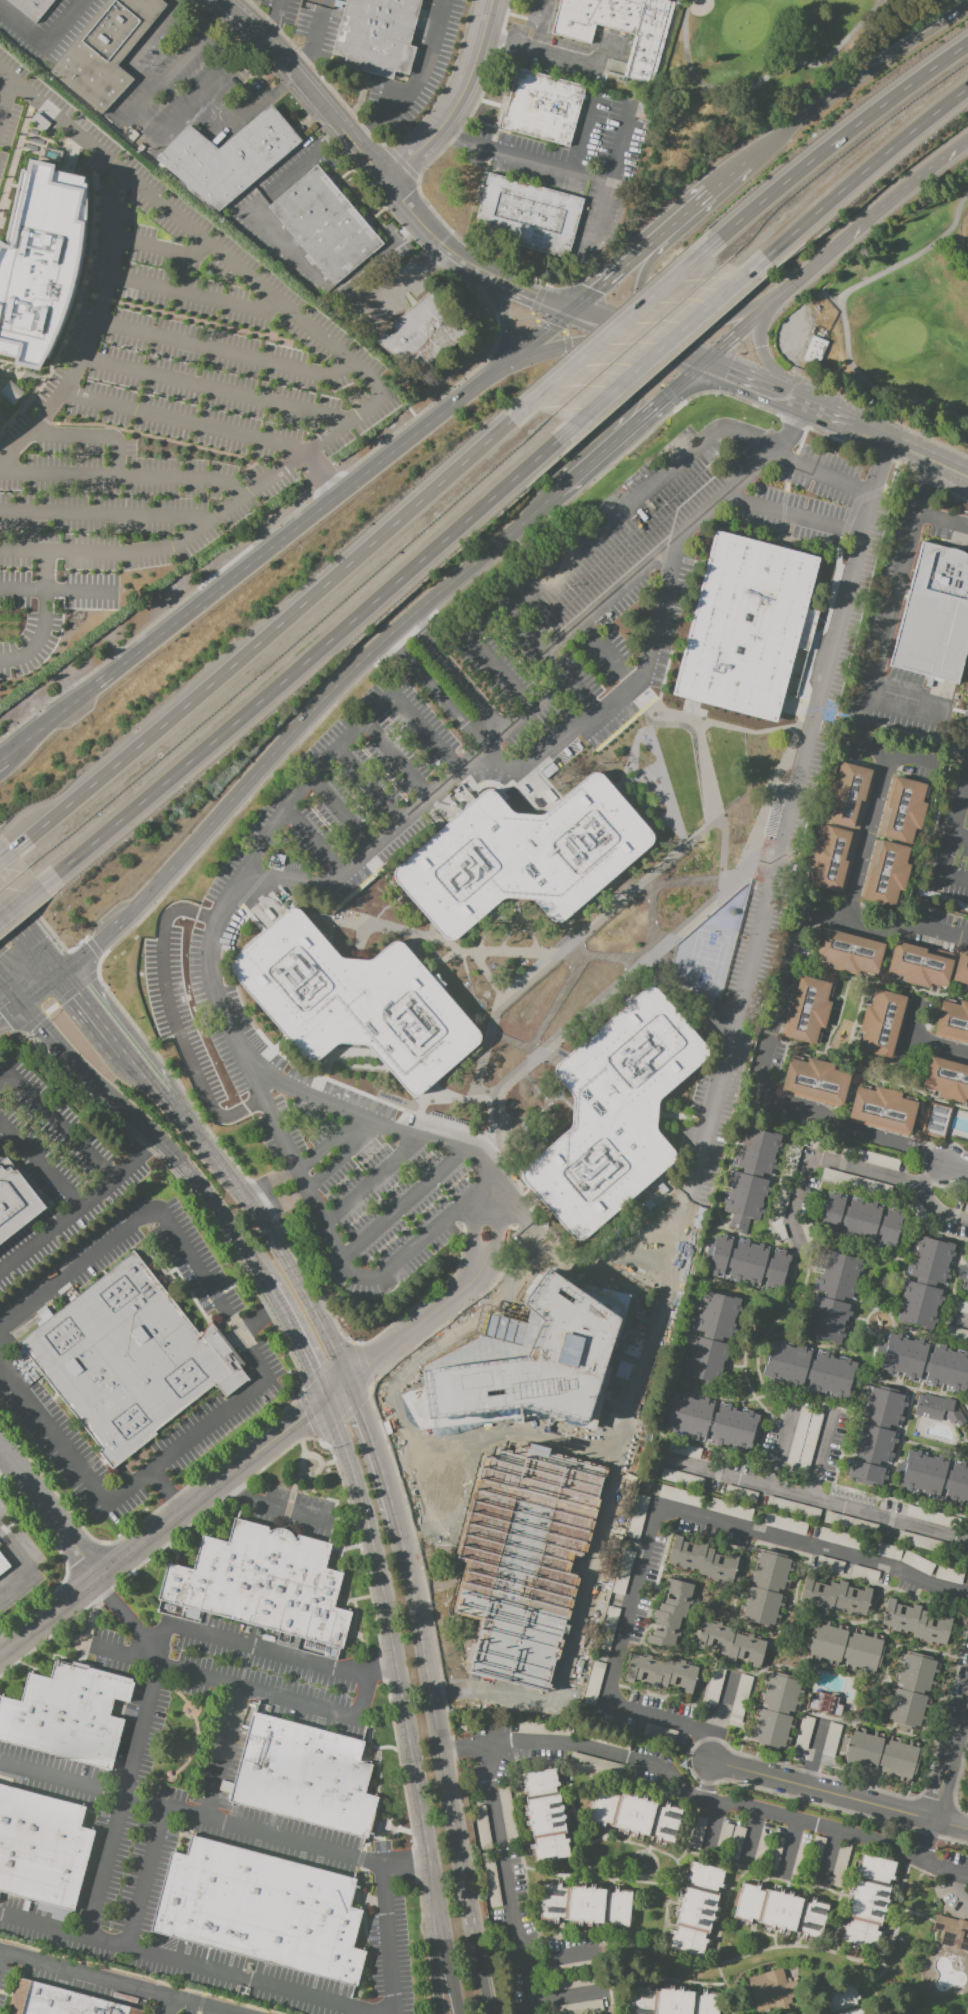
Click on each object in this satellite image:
building: (30, 7)
road: (273, 19)
road: (541, 25)
building: (619, 27)
building: (376, 35)
road: (314, 38)
road: (46, 46)
building: (106, 51)
road: (543, 52)
park: (749, 76)
road: (762, 80)
road: (415, 81)
road: (855, 82)
road: (151, 83)
road: (306, 86)
road: (206, 92)
road: (5, 97)
road: (456, 101)
road: (259, 104)
road: (138, 108)
building: (544, 109)
road: (460, 132)
road: (585, 132)
road: (841, 136)
road: (373, 138)
road: (525, 156)
building: (228, 158)
road: (401, 161)
road: (863, 171)
road: (615, 172)
road: (729, 175)
road: (411, 213)
building: (530, 215)
road: (683, 215)
building: (325, 225)
road: (834, 247)
road: (280, 248)
road: (162, 250)
road: (449, 250)
building: (40, 261)
road: (500, 264)
road: (615, 274)
road: (406, 279)
road: (465, 284)
road: (516, 284)
road: (642, 286)
road: (193, 295)
traffic signals: (576, 309)
park: (897, 311)
road: (529, 314)
road: (842, 315)
road: (503, 316)
road: (93, 322)
road: (609, 322)
road: (711, 325)
road: (558, 328)
road: (615, 328)
building: (421, 332)
road: (528, 346)
road: (673, 347)
road: (558, 348)
road: (224, 351)
road: (659, 351)
road: (762, 356)
traffic signals: (705, 360)
road: (607, 368)
road: (360, 371)
road: (747, 378)
road: (215, 386)
road: (639, 387)
road: (664, 389)
road: (661, 397)
road: (820, 410)
road: (183, 419)
road: (825, 434)
road: (91, 437)
road: (910, 449)
road: (587, 463)
road: (125, 476)
road: (320, 477)
road: (844, 482)
road: (868, 495)
road: (535, 508)
road: (104, 513)
road: (790, 513)
road: (941, 518)
road: (259, 537)
road: (582, 542)
road: (245, 568)
road: (46, 570)
road: (627, 579)
road: (22, 588)
road: (74, 589)
road: (656, 614)
building: (935, 615)
building: (746, 625)
road: (523, 631)
road: (270, 632)
road: (35, 633)
road: (605, 649)
road: (306, 660)
road: (874, 663)
road: (374, 665)
road: (451, 675)
road: (436, 690)
road: (804, 691)
road: (817, 708)
road: (705, 720)
road: (282, 742)
road: (554, 742)
road: (338, 744)
road: (5, 757)
road: (394, 757)
road: (703, 768)
road: (366, 783)
road: (941, 784)
road: (964, 792)
building: (848, 796)
road: (339, 808)
building: (903, 809)
road: (394, 821)
road: (949, 833)
road: (869, 835)
road: (959, 835)
road: (312, 839)
road: (14, 853)
building: (521, 855)
building: (830, 858)
building: (886, 872)
road: (735, 877)
road: (622, 882)
road: (685, 882)
road: (27, 899)
road: (255, 901)
road: (14, 907)
road: (650, 917)
road: (690, 917)
road: (886, 926)
road: (578, 935)
road: (418, 938)
road: (44, 946)
road: (93, 946)
road: (514, 952)
building: (849, 952)
road: (605, 955)
park: (705, 958)
road: (546, 962)
building: (919, 964)
traffic signals: (61, 968)
building: (961, 968)
road: (39, 984)
road: (8, 988)
road: (613, 998)
traffic signals: (17, 1000)
building: (352, 1001)
road: (58, 1002)
road: (589, 1003)
road: (8, 1006)
building: (807, 1009)
road: (778, 1011)
building: (953, 1020)
building: (882, 1023)
road: (109, 1026)
road: (911, 1038)
road: (486, 1040)
road: (939, 1047)
road: (547, 1055)
building: (946, 1079)
building: (814, 1080)
road: (459, 1086)
road: (330, 1088)
road: (715, 1089)
road: (484, 1101)
road: (121, 1104)
road: (337, 1104)
road: (238, 1107)
building: (882, 1109)
building: (613, 1113)
building: (936, 1120)
road: (57, 1122)
road: (848, 1137)
road: (201, 1138)
road: (418, 1156)
building: (875, 1159)
road: (833, 1161)
road: (39, 1163)
road: (956, 1166)
road: (930, 1173)
building: (750, 1177)
building: (849, 1179)
road: (449, 1182)
road: (502, 1193)
building: (15, 1202)
road: (79, 1202)
road: (461, 1205)
road: (326, 1207)
road: (427, 1208)
building: (860, 1221)
road: (485, 1225)
building: (779, 1233)
road: (241, 1246)
road: (413, 1249)
road: (488, 1252)
road: (578, 1263)
building: (748, 1263)
building: (967, 1263)
road: (474, 1269)
road: (435, 1282)
building: (924, 1282)
road: (299, 1283)
building: (965, 1283)
building: (832, 1296)
building: (959, 1307)
road: (406, 1316)
road: (258, 1320)
road: (427, 1320)
road: (958, 1320)
building: (956, 1334)
building: (711, 1338)
road: (294, 1340)
building: (128, 1358)
building: (926, 1362)
building: (809, 1370)
road: (263, 1372)
road: (355, 1372)
traffic signals: (348, 1378)
road: (336, 1390)
traffic signals: (324, 1402)
building: (939, 1410)
building: (711, 1421)
building: (874, 1434)
road: (379, 1446)
road: (817, 1455)
road: (5, 1460)
building: (935, 1477)
building: (681, 1479)
road: (211, 1490)
road: (602, 1492)
road: (166, 1493)
road: (797, 1493)
building: (739, 1494)
building: (676, 1495)
road: (275, 1506)
road: (653, 1508)
building: (792, 1508)
building: (731, 1509)
road: (49, 1510)
building: (637, 1516)
building: (850, 1523)
building: (783, 1524)
building: (925, 1542)
building: (859, 1543)
building: (702, 1560)
building: (917, 1562)
road: (25, 1563)
building: (3, 1564)
building: (829, 1565)
road: (582, 1567)
building: (863, 1574)
building: (949, 1574)
building: (260, 1584)
building: (766, 1587)
building: (835, 1596)
building: (671, 1614)
road: (49, 1615)
building: (916, 1623)
road: (567, 1628)
building: (606, 1634)
road: (234, 1644)
building: (729, 1645)
building: (845, 1647)
road: (395, 1654)
road: (449, 1654)
building: (661, 1673)
road: (207, 1676)
building: (591, 1683)
building: (714, 1686)
building: (911, 1691)
building: (740, 1699)
building: (826, 1705)
building: (776, 1710)
road: (719, 1715)
building: (71, 1716)
road: (440, 1726)
building: (803, 1733)
building: (831, 1739)
road: (580, 1744)
road: (223, 1751)
road: (812, 1754)
building: (881, 1754)
road: (950, 1756)
building: (594, 1764)
building: (303, 1775)
road: (956, 1775)
road: (124, 1795)
road: (839, 1795)
building: (633, 1815)
building: (544, 1816)
road: (791, 1820)
road: (710, 1824)
road: (261, 1831)
building: (696, 1832)
road: (751, 1835)
building: (728, 1840)
road: (927, 1841)
road: (788, 1844)
building: (42, 1848)
building: (769, 1848)
road: (827, 1855)
building: (806, 1859)
building: (839, 1865)
road: (404, 1867)
road: (944, 1868)
road: (145, 1876)
road: (504, 1877)
building: (868, 1901)
building: (584, 1905)
building: (260, 1909)
building: (696, 1909)
building: (779, 1911)
building: (951, 1932)
road: (561, 1955)
road: (1, 1956)
road: (191, 1963)
road: (440, 1964)
road: (447, 1964)
road: (482, 1975)
road: (123, 1981)
building: (771, 1990)
road: (563, 1996)
building: (840, 2000)
building: (61, 2001)
building: (671, 2002)
road: (171, 2004)

